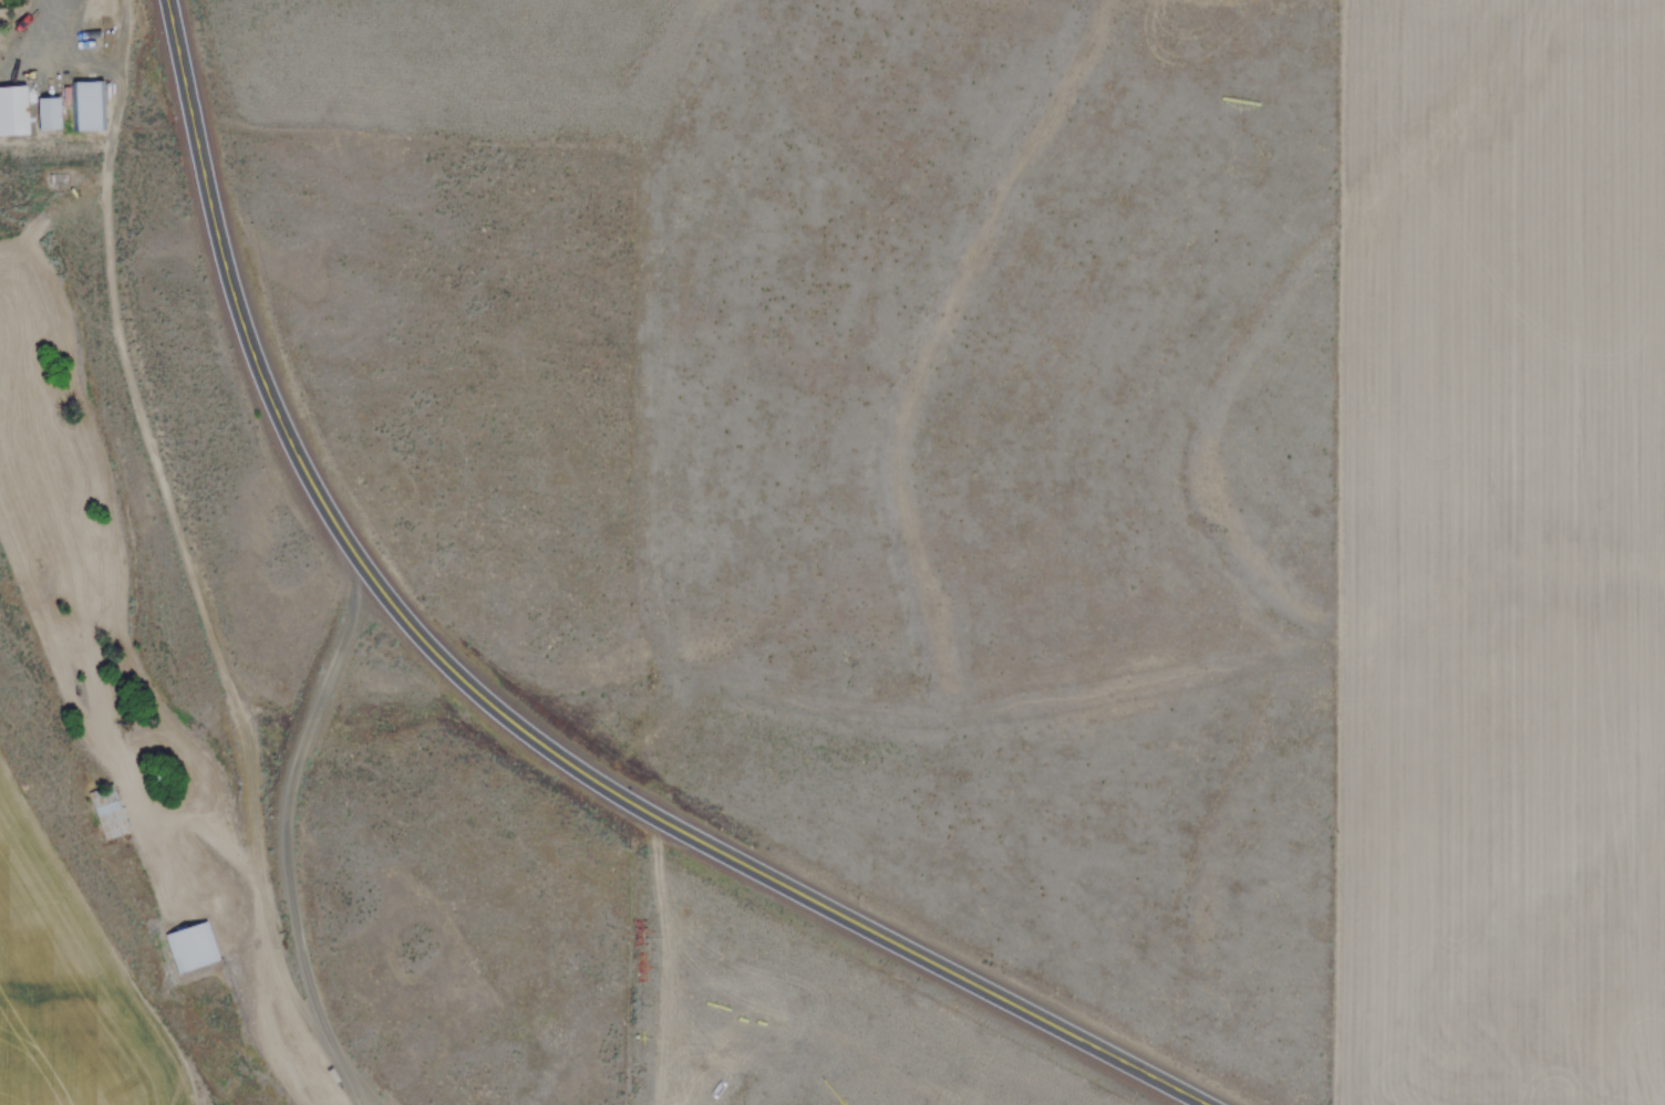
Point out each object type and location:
road: (83, 31)
building: (14, 108)
building: (50, 112)
road: (509, 716)
road: (296, 843)
building: (193, 945)

